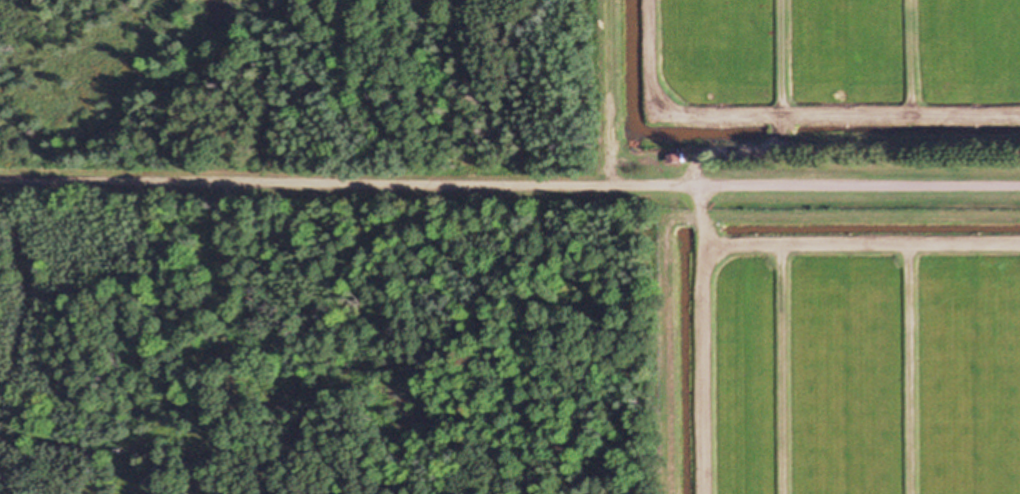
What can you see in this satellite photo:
road: (510, 177)

